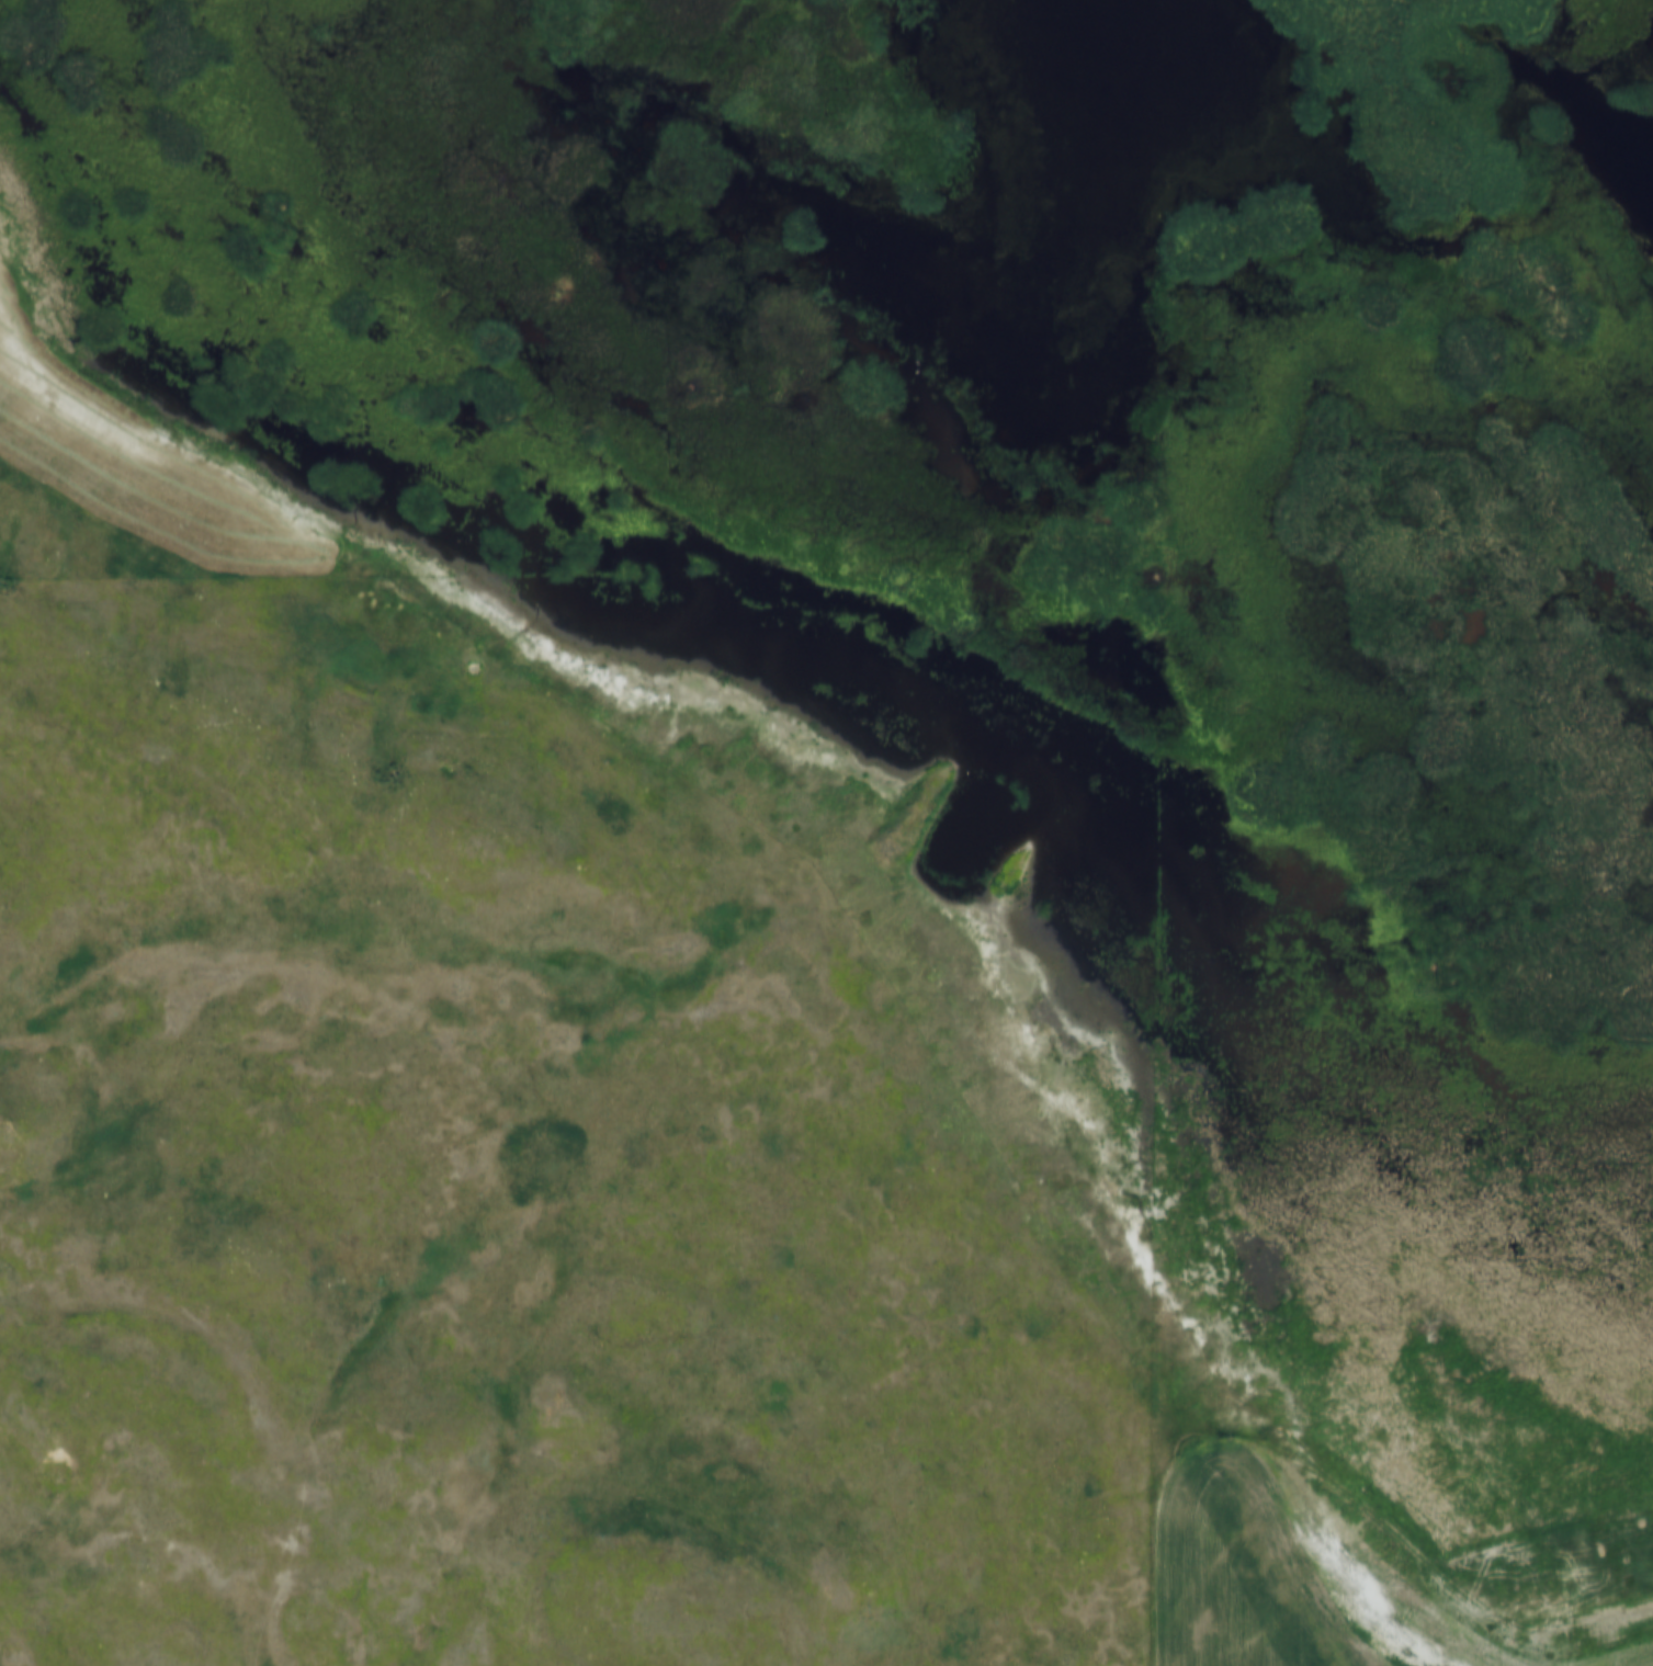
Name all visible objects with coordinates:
building: (1600, 1371)

